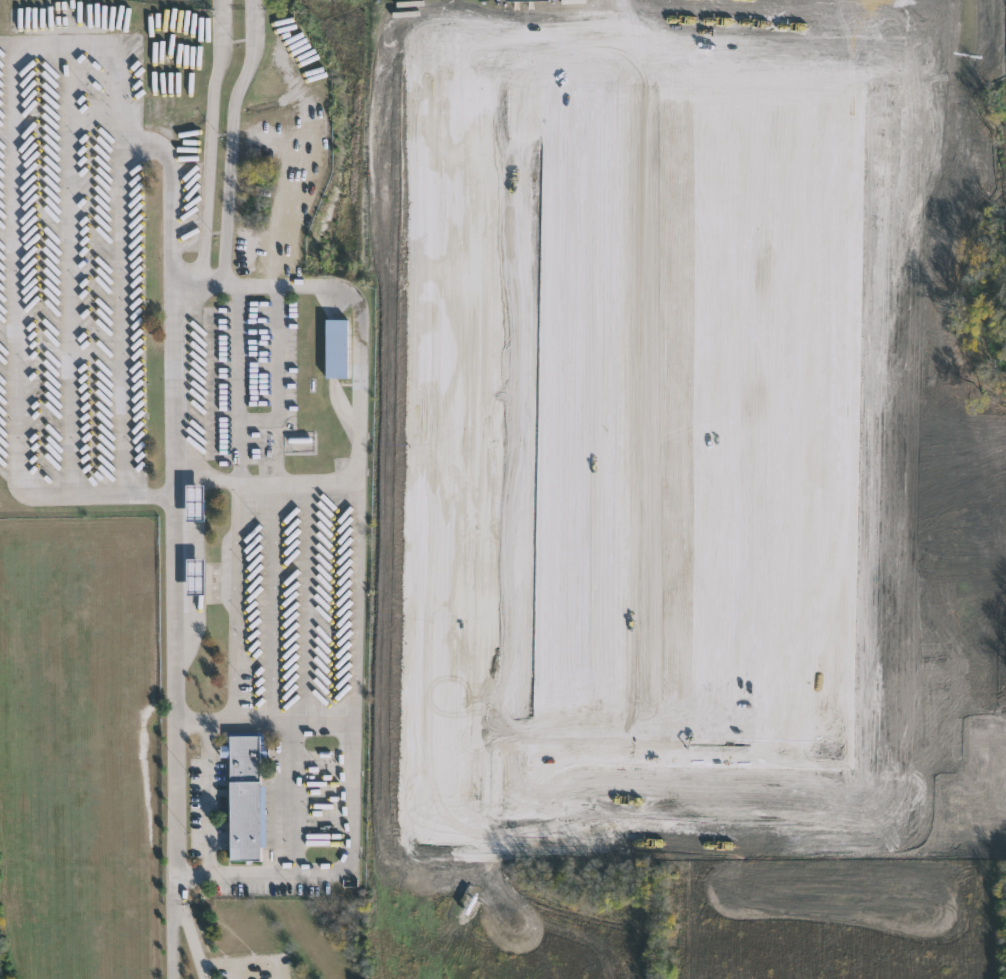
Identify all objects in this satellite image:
road: (96, 39)
road: (65, 267)
road: (211, 284)
road: (353, 296)
road: (119, 318)
building: (336, 347)
road: (239, 383)
road: (172, 390)
road: (12, 455)
road: (265, 481)
building: (195, 502)
building: (196, 576)
road: (234, 601)
road: (273, 601)
road: (312, 601)
road: (356, 601)
road: (175, 699)
road: (264, 721)
building: (245, 796)
road: (287, 798)
road: (210, 799)
road: (336, 873)
road: (179, 906)

